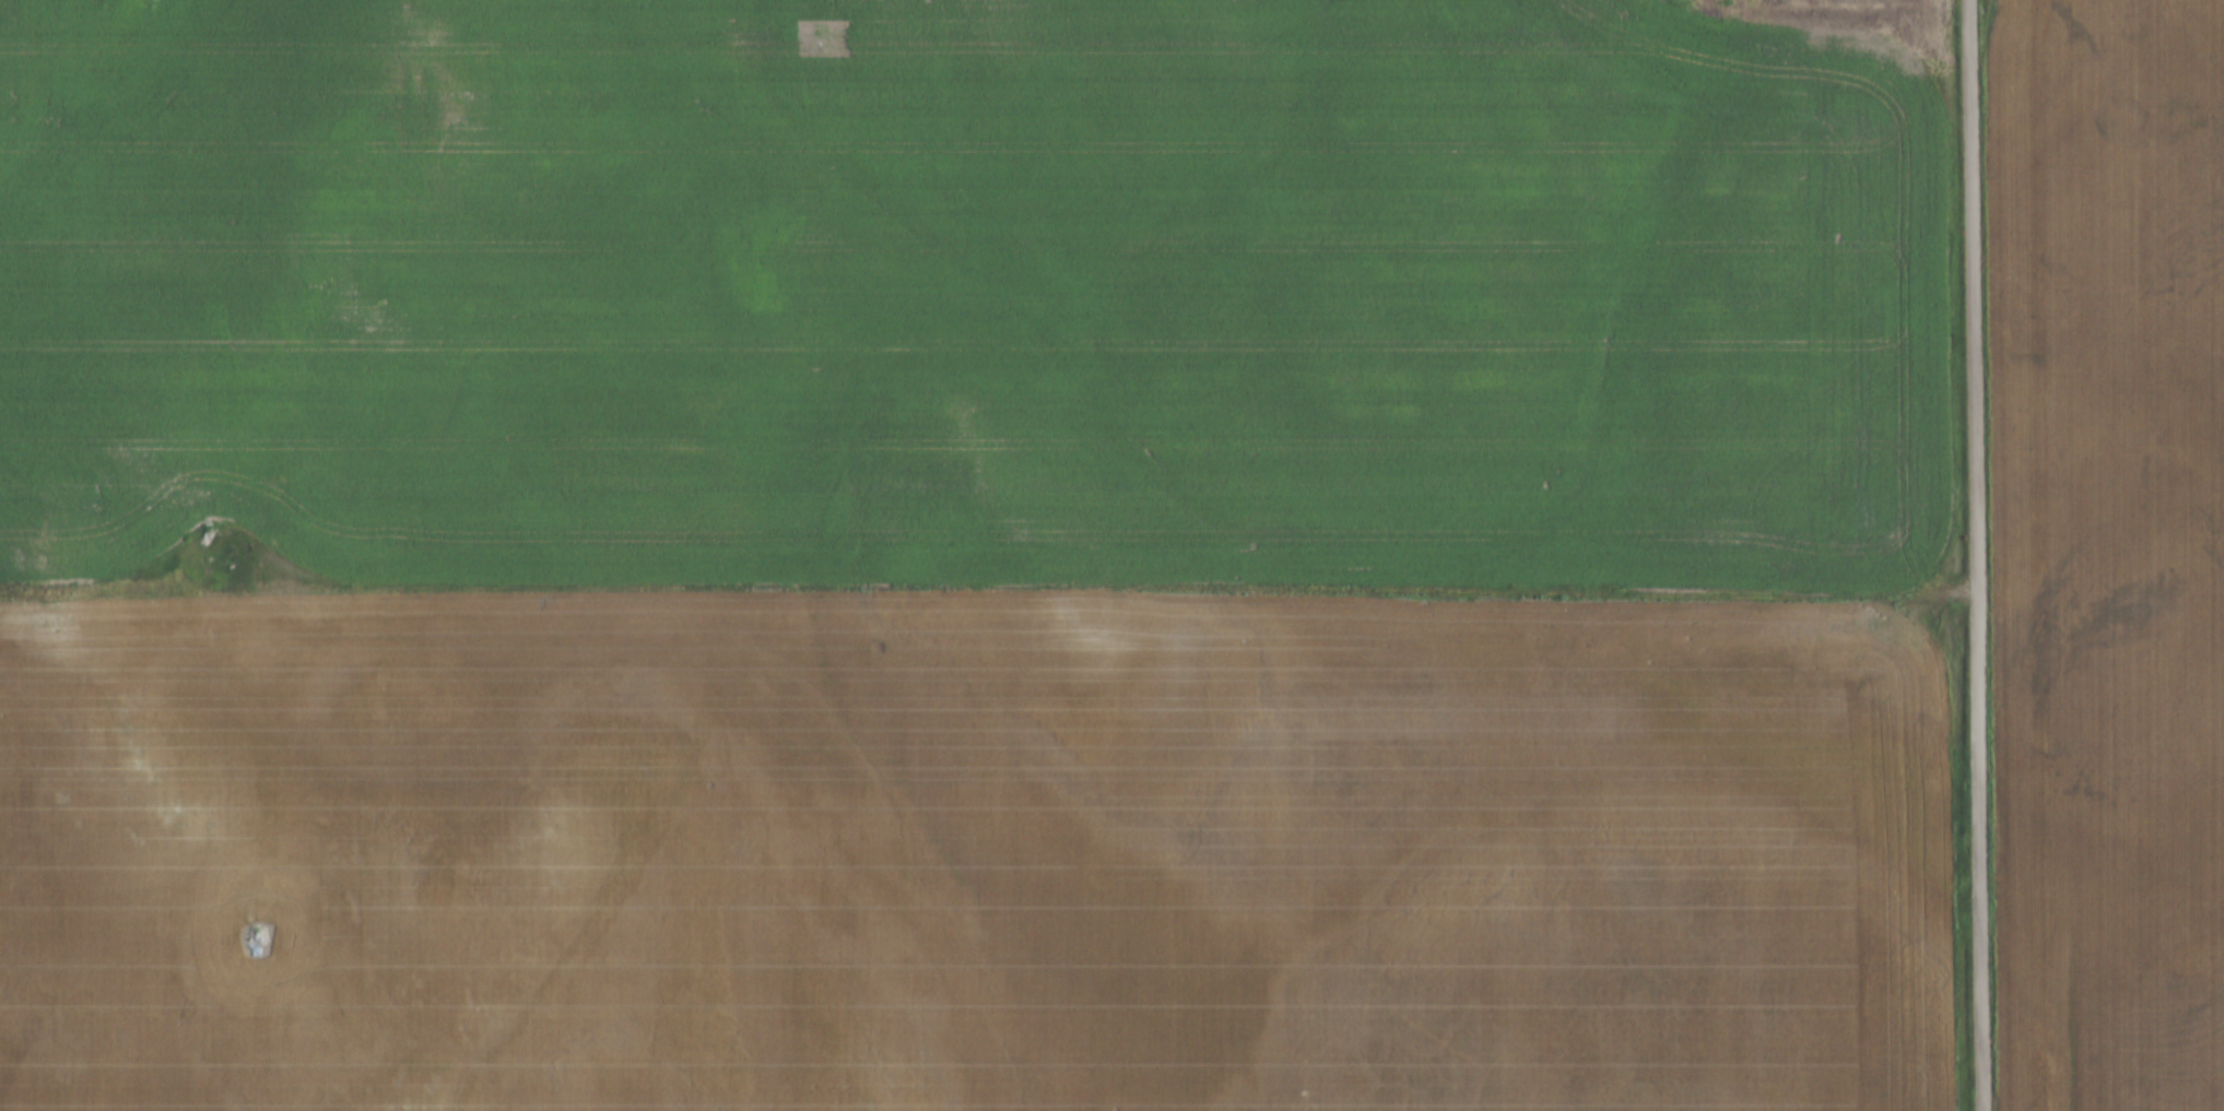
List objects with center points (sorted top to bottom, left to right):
road: (1975, 555)
road: (988, 587)

